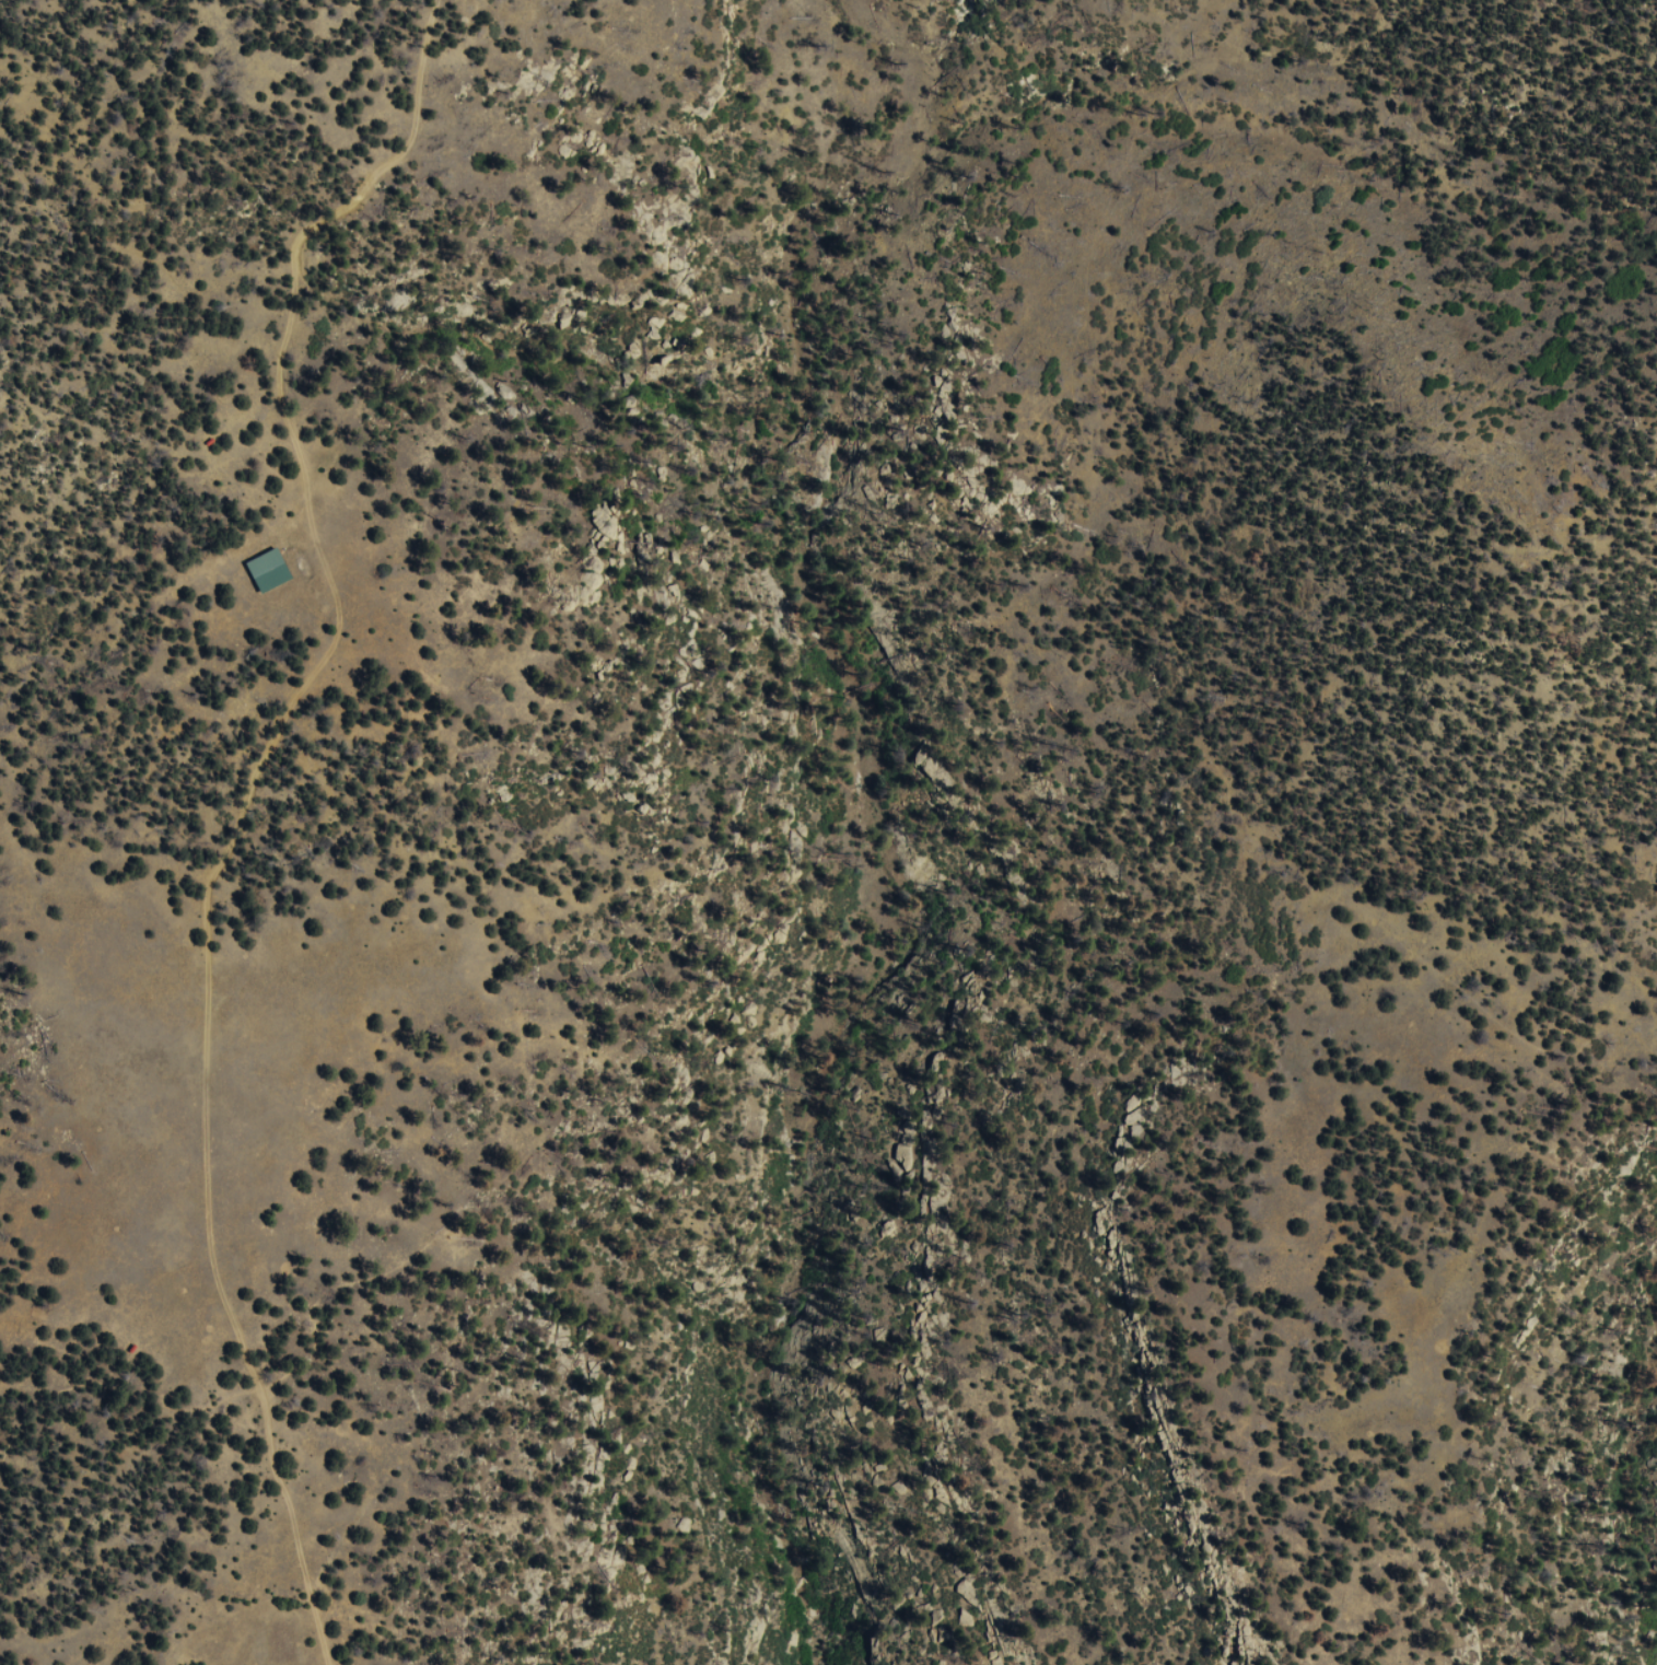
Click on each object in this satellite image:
building: (212, 442)
building: (275, 571)
road: (317, 673)
building: (137, 1349)
road: (84, 1385)
road: (295, 1525)

